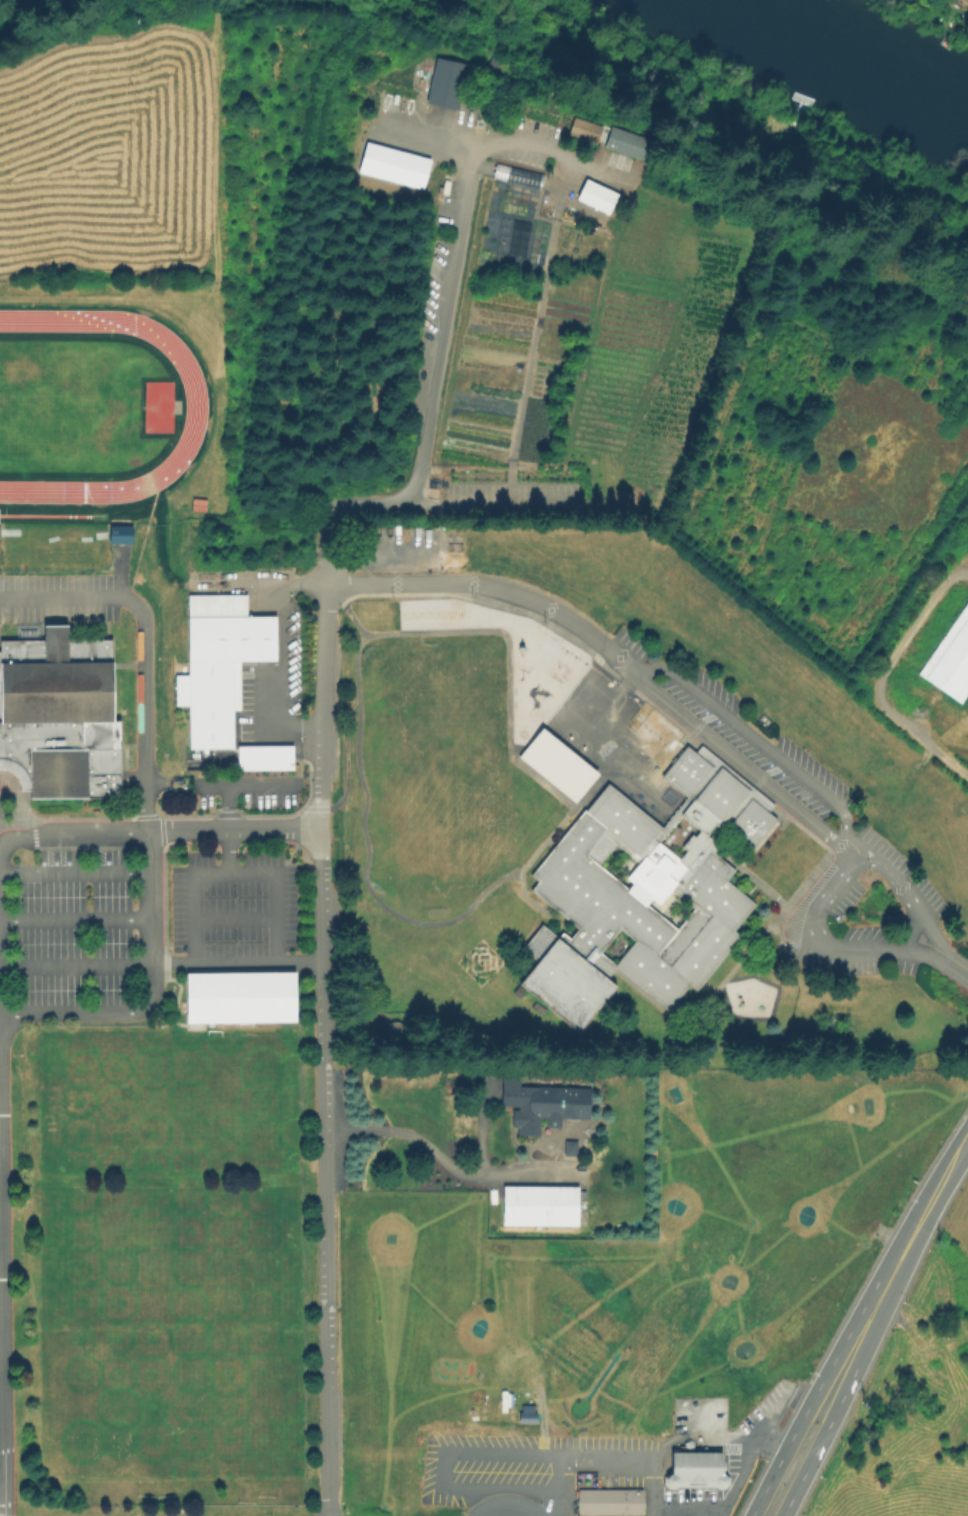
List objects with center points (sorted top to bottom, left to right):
building: (965, 1)
river: (866, 53)
building: (444, 83)
building: (582, 129)
road: (428, 134)
parking lot: (529, 142)
building: (624, 143)
building: (392, 165)
building: (516, 175)
building: (594, 196)
road: (443, 318)
track: (193, 401)
park: (58, 406)
parking lot: (473, 498)
building: (118, 533)
parking lot: (57, 597)
road: (321, 649)
road: (284, 657)
building: (950, 658)
building: (218, 662)
road: (875, 691)
park: (588, 703)
building: (58, 715)
park: (463, 716)
park: (568, 737)
parking lot: (760, 744)
road: (765, 745)
park: (581, 748)
building: (263, 757)
building: (556, 765)
park: (616, 779)
park: (592, 783)
road: (240, 785)
park: (583, 794)
park: (667, 796)
parking lot: (243, 798)
road: (144, 809)
road: (157, 830)
road: (226, 830)
park: (406, 830)
road: (537, 848)
road: (73, 870)
road: (233, 875)
building: (641, 891)
parking lot: (232, 903)
road: (73, 918)
parking lot: (872, 918)
parking lot: (73, 930)
road: (832, 947)
road: (235, 963)
road: (74, 964)
building: (239, 996)
park: (166, 1101)
building: (542, 1105)
building: (569, 1148)
road: (428, 1153)
building: (531, 1207)
park: (167, 1259)
road: (895, 1270)
road: (0, 1352)
park: (169, 1406)
building: (524, 1413)
road: (505, 1451)
road: (785, 1451)
road: (812, 1458)
road: (747, 1461)
building: (697, 1469)
road: (565, 1483)
building: (611, 1503)
road: (507, 1504)

